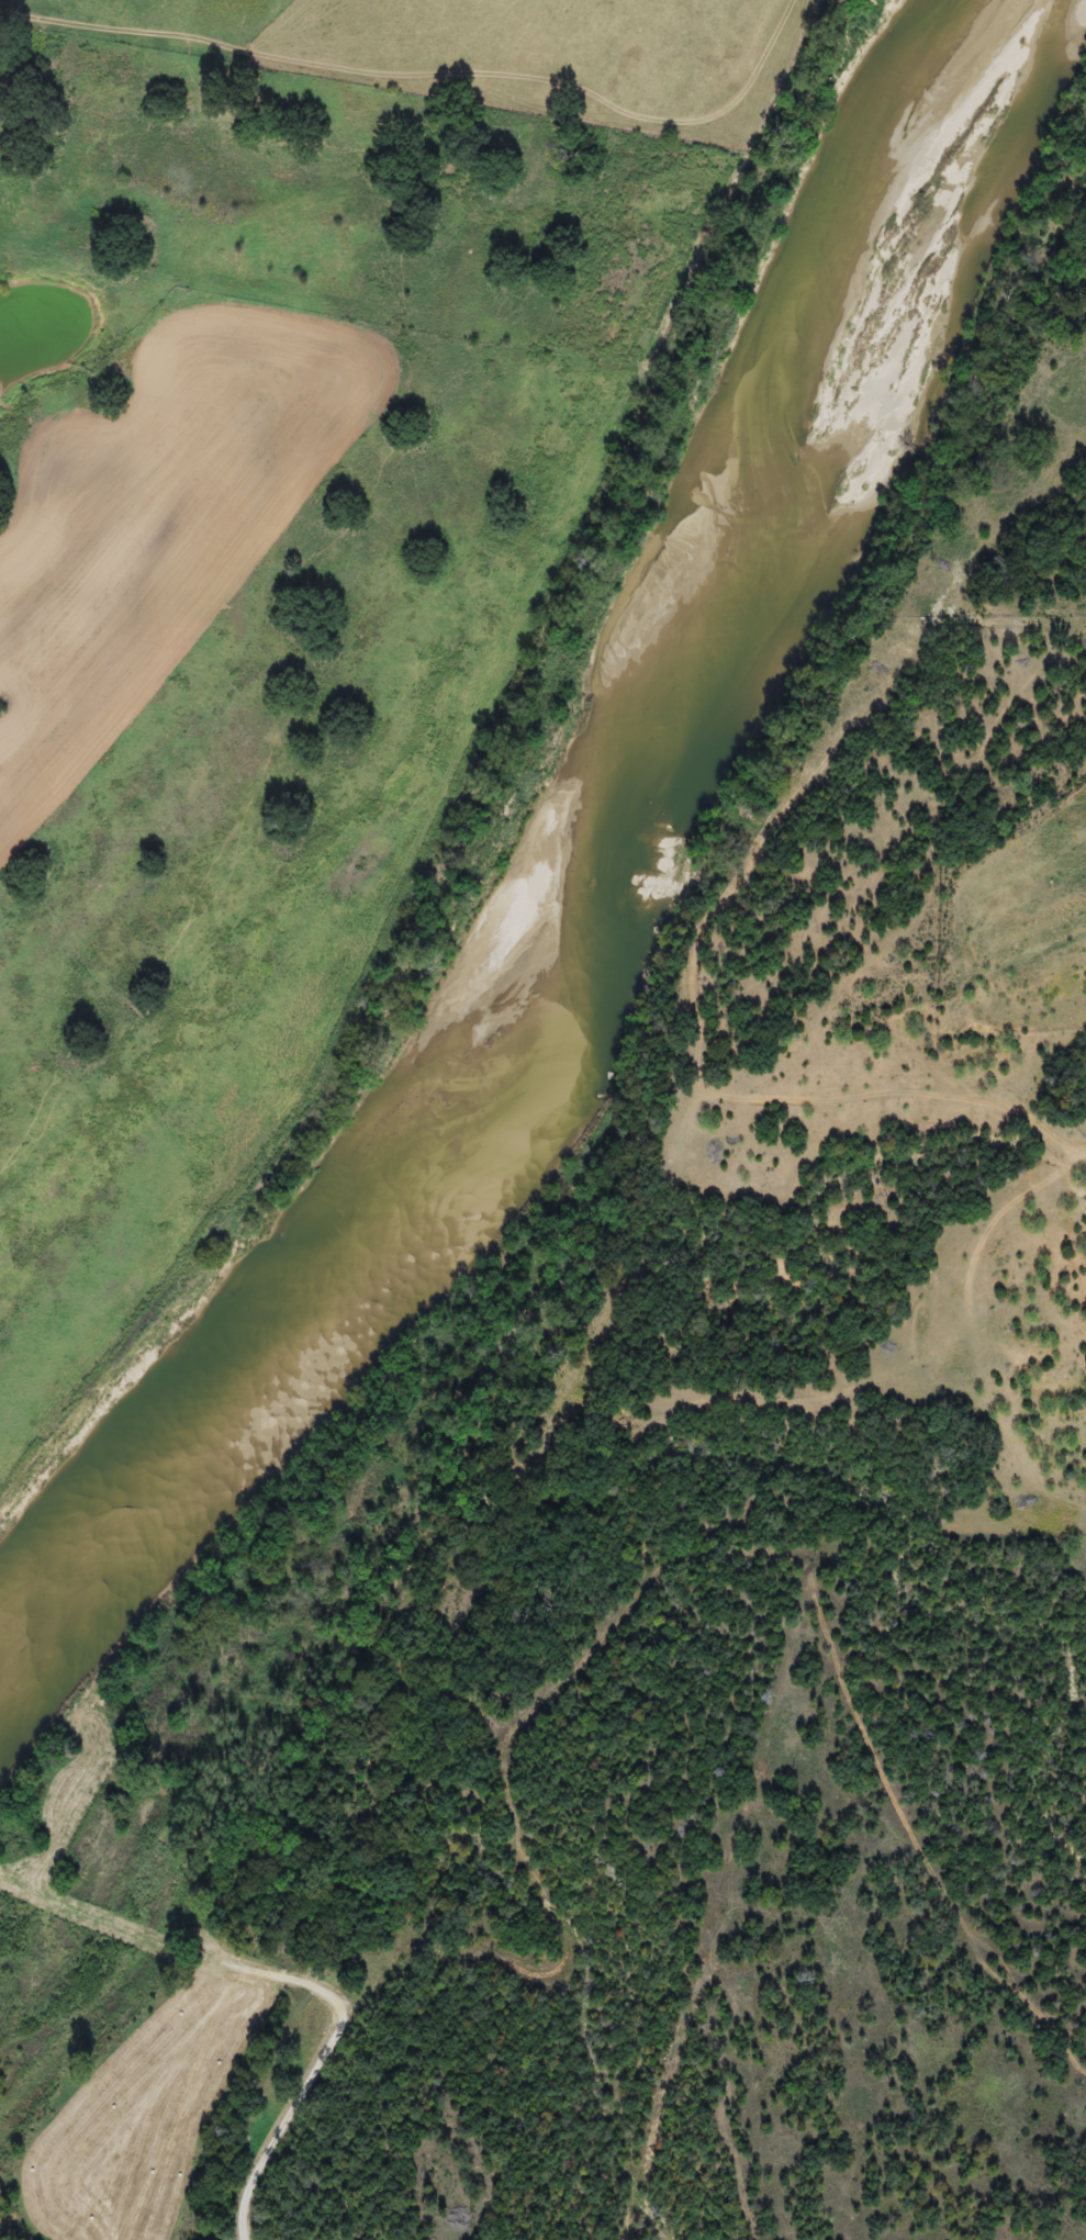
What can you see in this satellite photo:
river: (594, 903)

